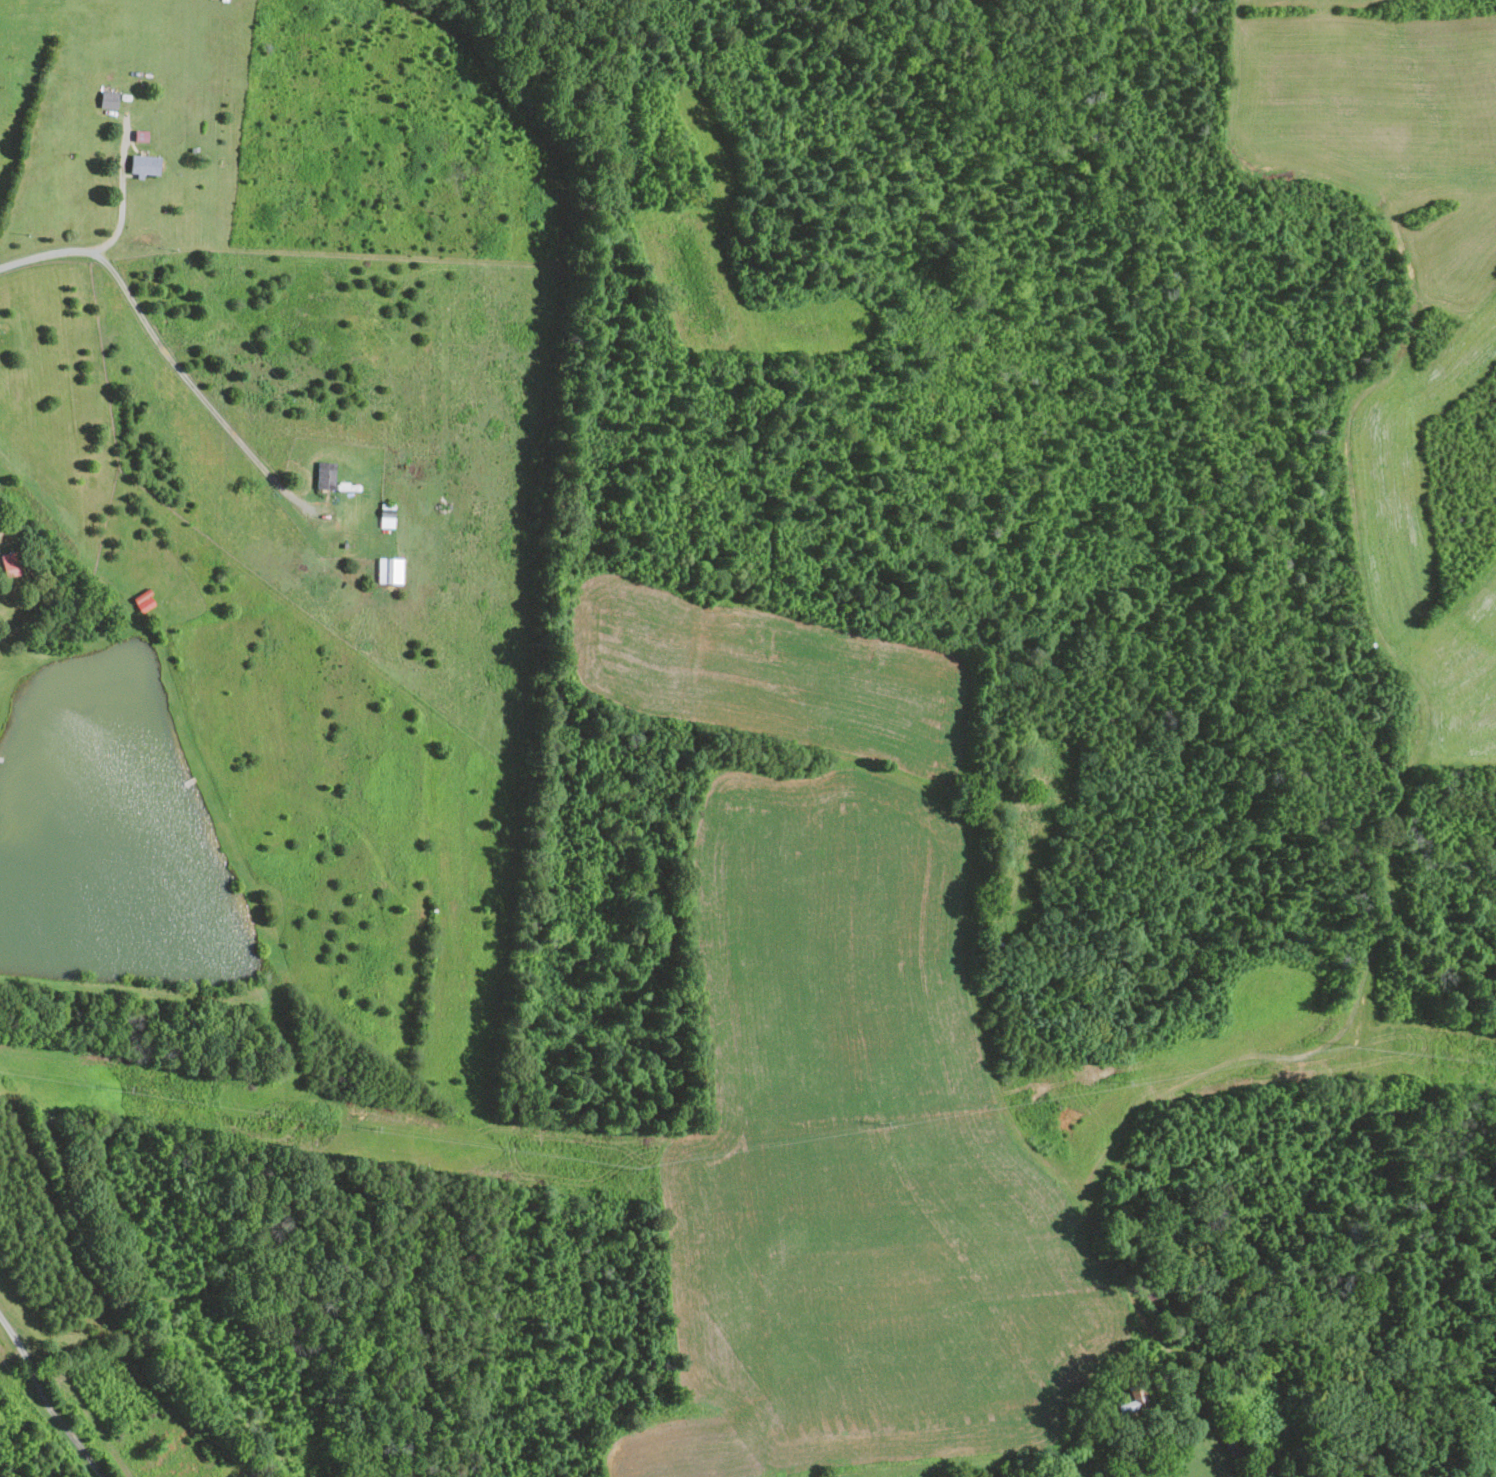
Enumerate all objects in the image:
building: (107, 99)
building: (143, 164)
road: (122, 209)
road: (51, 258)
road: (193, 385)
building: (324, 474)
building: (386, 519)
building: (9, 563)
building: (389, 569)
road: (13, 1328)
road: (13, 1356)
road: (58, 1417)
road: (1211, 1440)

